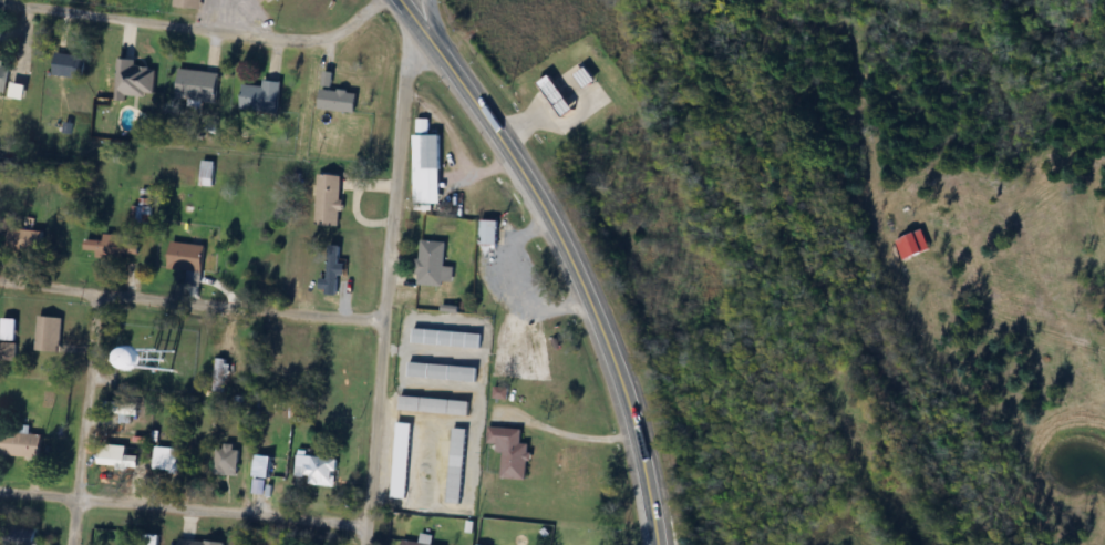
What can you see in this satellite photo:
building: (270, 2)
building: (189, 3)
road: (434, 22)
road: (194, 30)
building: (70, 65)
building: (3, 73)
building: (133, 81)
building: (197, 85)
building: (262, 96)
building: (557, 96)
building: (339, 101)
road: (528, 166)
building: (427, 169)
building: (329, 200)
building: (488, 234)
building: (25, 239)
building: (115, 247)
building: (186, 258)
building: (433, 266)
building: (333, 270)
railway: (834, 271)
road: (386, 280)
road: (507, 280)
road: (190, 305)
building: (9, 330)
building: (48, 335)
building: (446, 339)
building: (8, 352)
building: (293, 364)
building: (179, 366)
building: (443, 372)
building: (219, 376)
building: (434, 407)
road: (82, 421)
road: (562, 430)
building: (21, 445)
road: (638, 451)
building: (510, 453)
building: (227, 460)
building: (116, 461)
building: (402, 461)
building: (262, 466)
building: (457, 466)
building: (167, 469)
building: (318, 471)
road: (184, 510)
building: (23, 536)
building: (421, 541)
building: (483, 542)
building: (198, 543)

